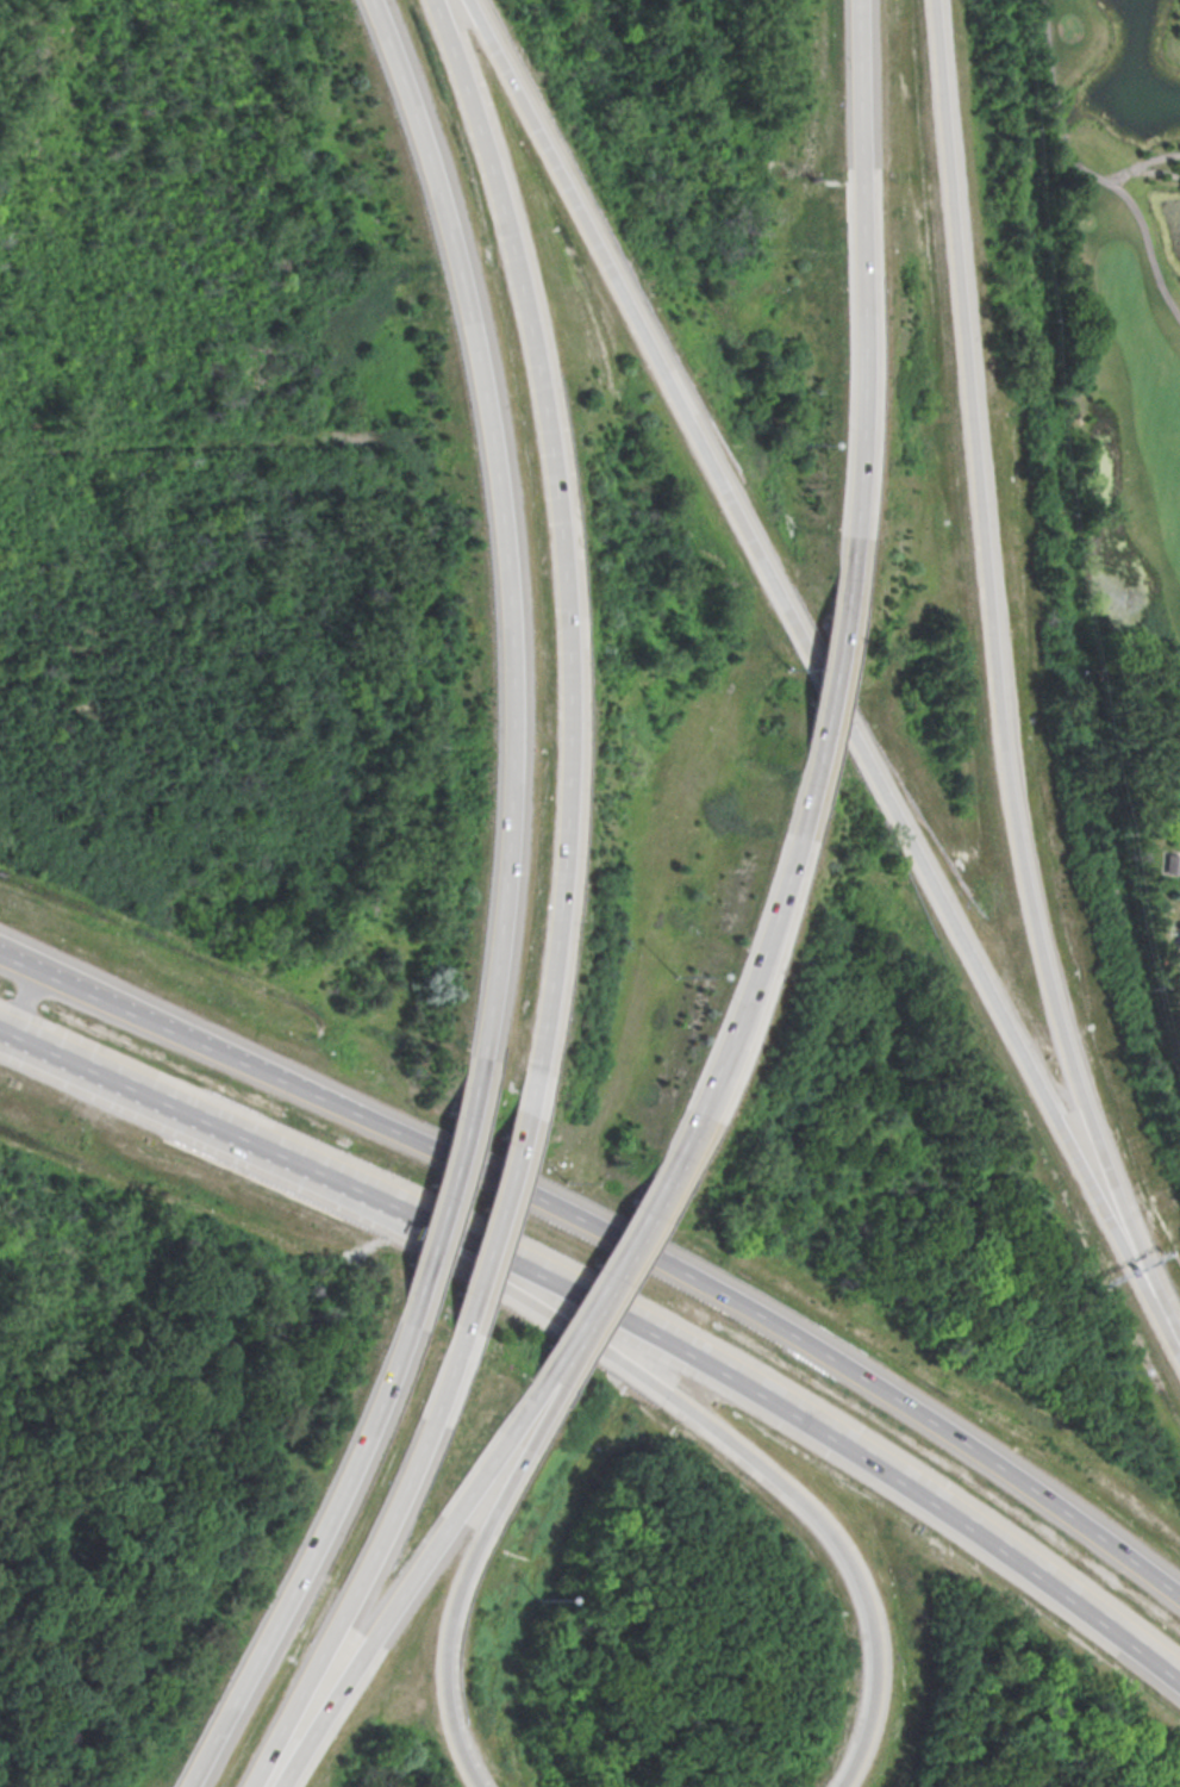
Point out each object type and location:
road: (1153, 162)
road: (1085, 172)
road: (1154, 174)
road: (1119, 179)
road: (857, 309)
park: (1123, 429)
road: (495, 552)
road: (552, 561)
road: (822, 671)
road: (995, 673)
road: (824, 685)
building: (1168, 865)
building: (1176, 942)
road: (18, 960)
road: (749, 973)
road: (20, 1000)
road: (74, 1064)
road: (648, 1202)
road: (438, 1208)
road: (488, 1232)
road: (626, 1246)
road: (612, 1266)
road: (563, 1341)
road: (576, 1349)
road: (685, 1352)
road: (622, 1364)
road: (304, 1545)
road: (360, 1561)
road: (455, 1576)
road: (404, 1577)

